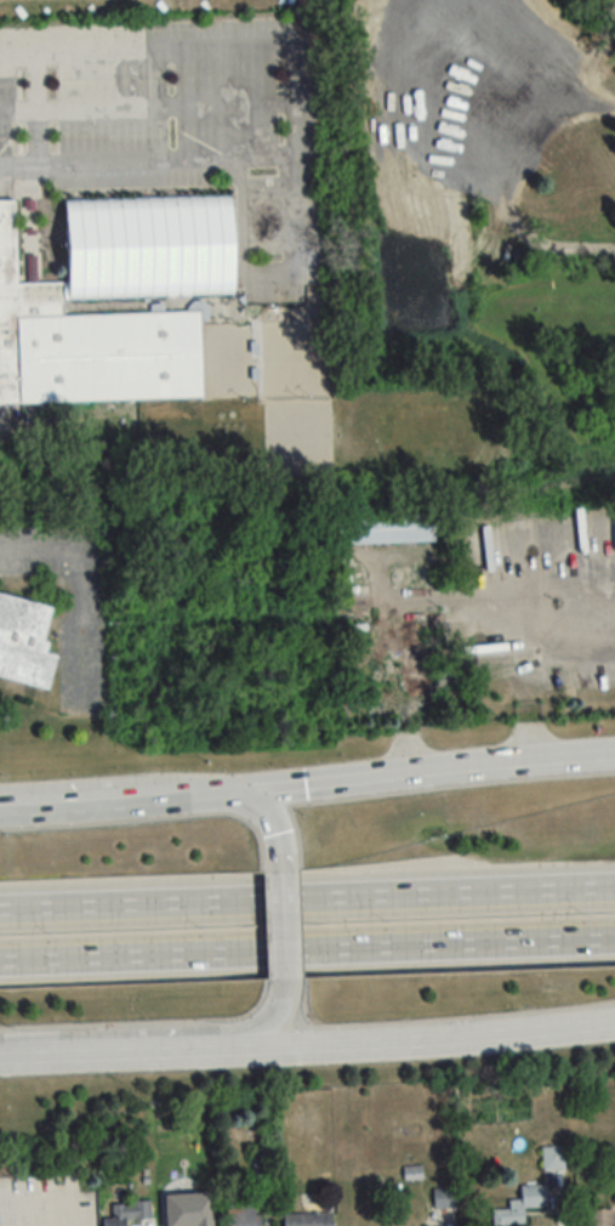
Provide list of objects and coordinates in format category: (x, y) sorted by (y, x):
road: (292, 104)
road: (505, 183)
road: (298, 208)
building: (73, 296)
road: (0, 421)
building: (382, 528)
road: (36, 549)
building: (24, 640)
building: (412, 664)
road: (380, 773)
road: (73, 800)
road: (269, 831)
road: (433, 897)
road: (125, 908)
road: (283, 931)
road: (434, 944)
road: (126, 957)
road: (272, 1018)
road: (427, 1034)
road: (123, 1049)
road: (4, 1054)
building: (552, 1158)
building: (261, 1169)
building: (411, 1173)
building: (443, 1198)
building: (519, 1205)
building: (126, 1211)
building: (241, 1214)
building: (600, 1218)
building: (307, 1219)
road: (0, 1220)

